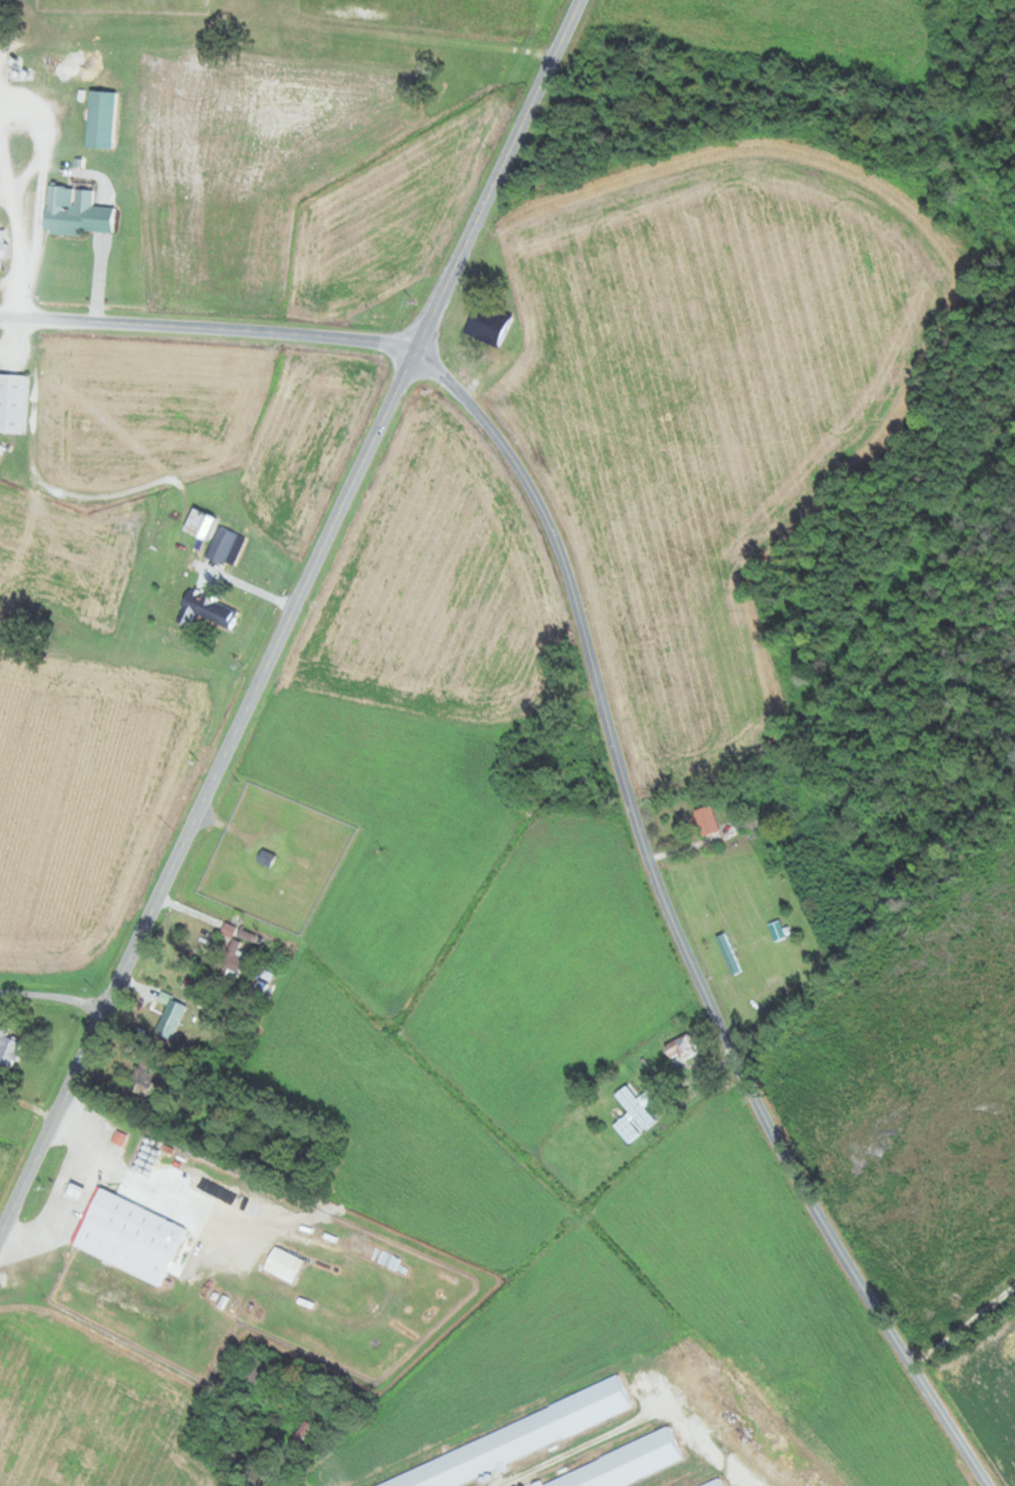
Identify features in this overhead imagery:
road: (421, 42)
road: (72, 156)
building: (73, 211)
building: (2, 248)
building: (485, 323)
road: (208, 327)
building: (11, 402)
building: (195, 523)
building: (219, 544)
building: (212, 611)
road: (290, 616)
building: (704, 820)
building: (263, 859)
road: (594, 897)
road: (675, 924)
building: (233, 952)
building: (726, 954)
building: (262, 977)
building: (167, 1016)
building: (682, 1047)
building: (7, 1050)
building: (142, 1075)
road: (157, 1174)
building: (126, 1237)
road: (63, 1244)
building: (281, 1264)
road: (395, 1271)
road: (961, 1313)
building: (251, 1370)
building: (628, 1467)

